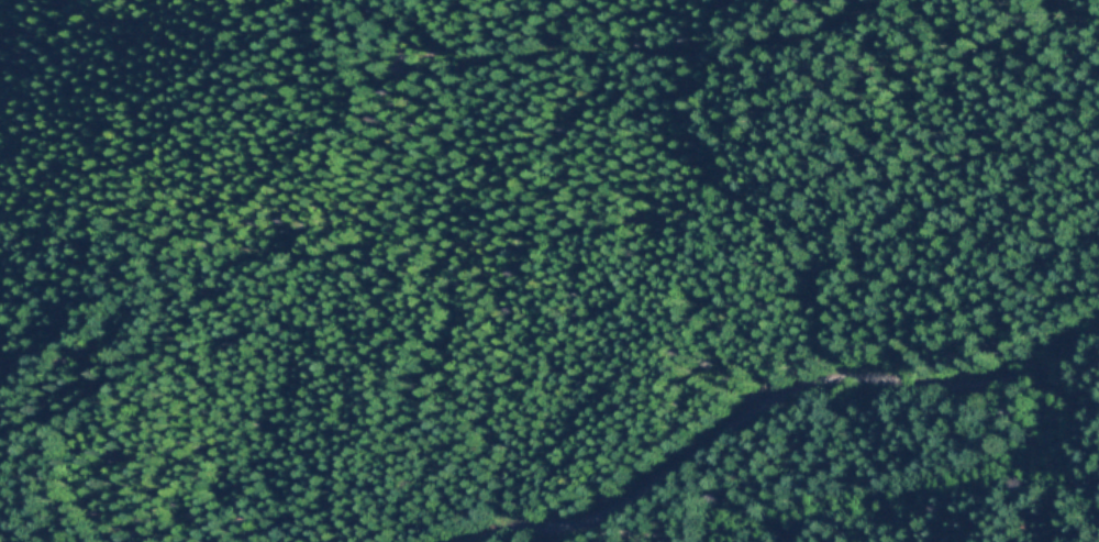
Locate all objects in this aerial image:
road: (765, 395)

